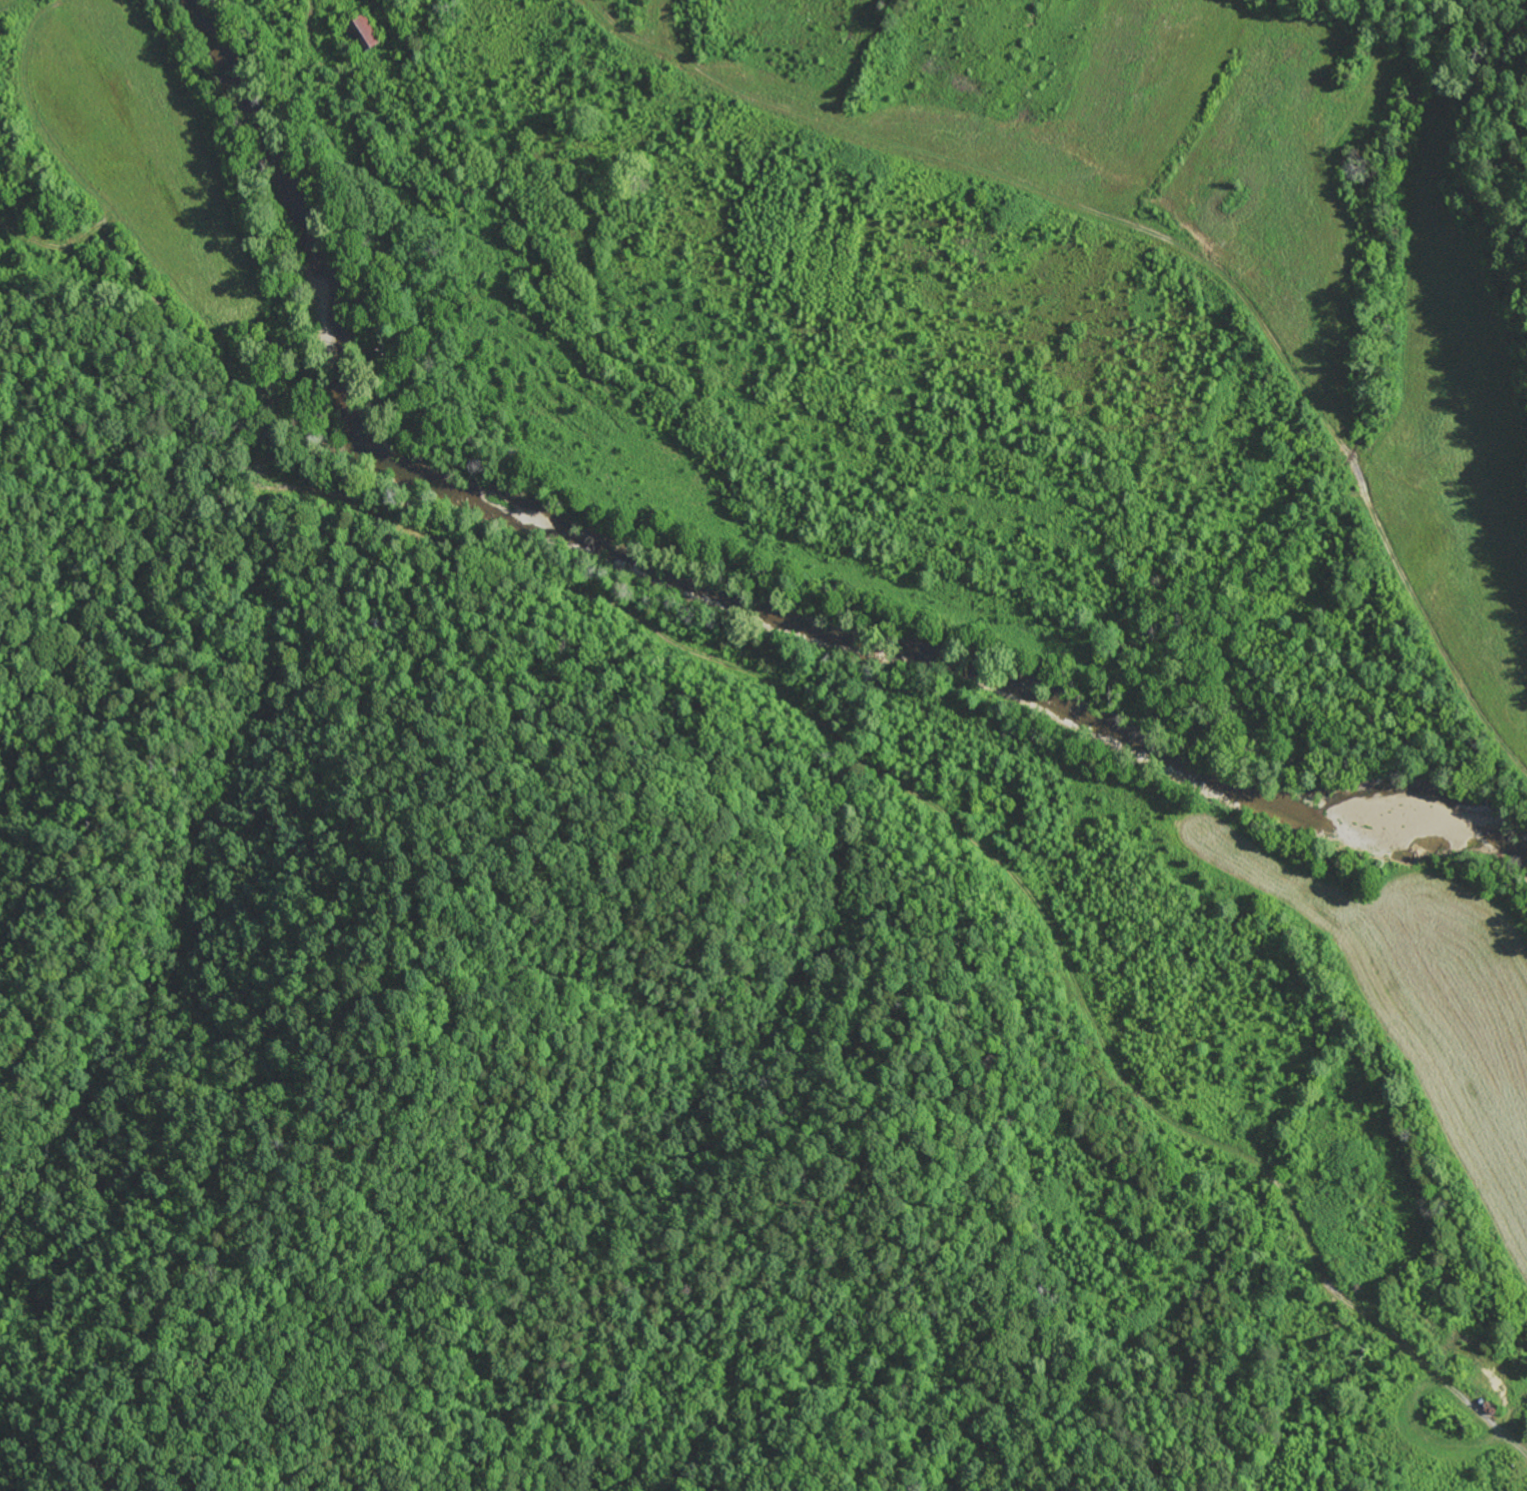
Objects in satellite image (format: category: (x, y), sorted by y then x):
road: (929, 147)
road: (1444, 611)
road: (755, 643)

